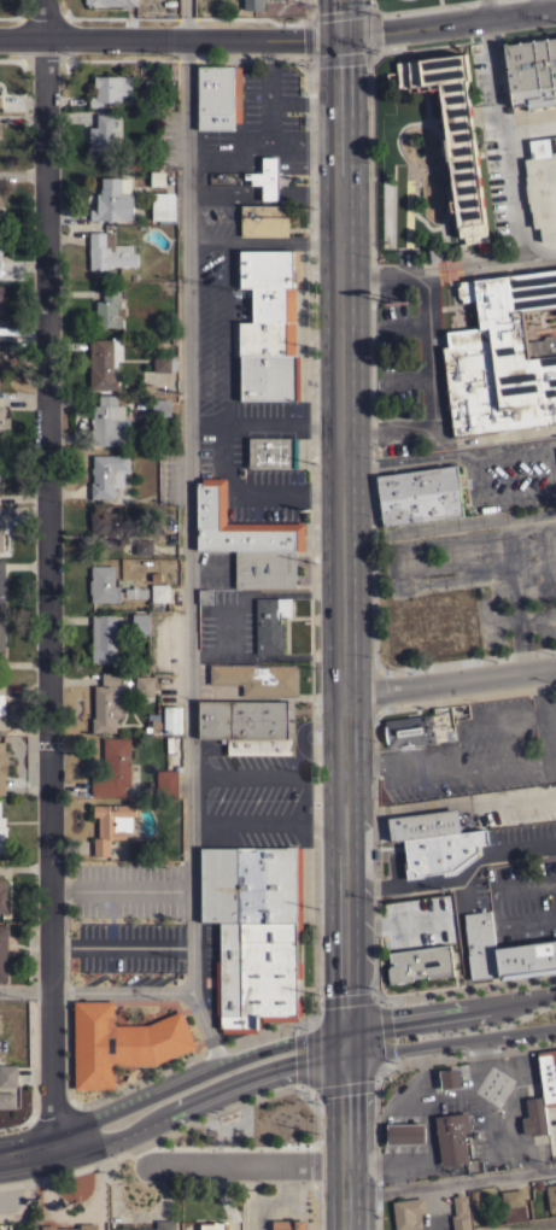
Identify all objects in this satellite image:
building: (111, 2)
building: (253, 4)
road: (540, 6)
road: (486, 10)
road: (338, 19)
road: (446, 24)
traffic signals: (339, 40)
road: (169, 41)
building: (531, 72)
building: (110, 89)
building: (218, 96)
building: (0, 102)
parking lot: (265, 118)
building: (0, 130)
building: (101, 133)
building: (452, 135)
building: (555, 141)
road: (503, 147)
building: (267, 177)
building: (158, 178)
building: (542, 187)
building: (113, 199)
building: (163, 206)
building: (1, 211)
building: (264, 221)
road: (209, 241)
road: (283, 241)
building: (109, 252)
building: (0, 263)
building: (0, 294)
building: (268, 303)
building: (109, 309)
road: (227, 330)
building: (502, 357)
road: (425, 358)
building: (104, 362)
building: (165, 363)
building: (0, 367)
building: (269, 377)
building: (160, 406)
parking lot: (240, 406)
road: (283, 420)
building: (107, 421)
building: (2, 422)
building: (273, 452)
road: (410, 465)
building: (0, 468)
building: (109, 474)
parking lot: (509, 476)
road: (480, 478)
road: (254, 486)
building: (419, 494)
building: (239, 525)
building: (107, 528)
road: (344, 539)
road: (191, 540)
building: (1, 541)
building: (144, 546)
parking lot: (218, 569)
building: (264, 569)
road: (48, 573)
building: (2, 584)
building: (103, 584)
building: (135, 591)
building: (160, 592)
road: (257, 593)
building: (205, 597)
building: (140, 623)
building: (270, 623)
parking lot: (229, 627)
building: (2, 634)
building: (104, 638)
road: (267, 658)
building: (257, 678)
road: (451, 679)
building: (145, 685)
road: (468, 697)
road: (548, 702)
building: (1, 703)
building: (106, 703)
building: (171, 719)
building: (246, 719)
road: (488, 720)
building: (416, 728)
building: (258, 745)
parking lot: (490, 750)
road: (394, 760)
road: (496, 763)
building: (2, 767)
building: (115, 768)
road: (268, 769)
building: (166, 781)
parking lot: (254, 799)
road: (268, 819)
building: (421, 820)
building: (111, 825)
building: (2, 834)
road: (374, 849)
building: (440, 849)
road: (456, 875)
parking lot: (520, 879)
building: (250, 881)
road: (119, 888)
building: (2, 895)
road: (494, 903)
road: (460, 922)
road: (119, 944)
building: (503, 949)
building: (4, 953)
building: (420, 961)
building: (254, 970)
road: (469, 989)
road: (96, 990)
road: (379, 998)
road: (449, 1007)
road: (310, 1018)
road: (451, 1038)
traffic signals: (349, 1039)
building: (119, 1043)
road: (299, 1055)
road: (404, 1056)
building: (8, 1076)
building: (548, 1076)
building: (450, 1078)
gas station: (450, 1078)
road: (343, 1085)
road: (172, 1096)
building: (7, 1100)
road: (238, 1102)
building: (533, 1119)
park: (256, 1121)
road: (491, 1121)
building: (405, 1134)
gas station: (405, 1134)
road: (349, 1135)
road: (431, 1137)
building: (452, 1137)
road: (245, 1161)
road: (394, 1175)
road: (452, 1179)
road: (271, 1193)
building: (551, 1196)
building: (478, 1197)
building: (513, 1205)
road: (429, 1206)
building: (408, 1213)
building: (461, 1213)
building: (163, 1224)
building: (212, 1225)
building: (288, 1225)
building: (70, 1228)
building: (121, 1229)

